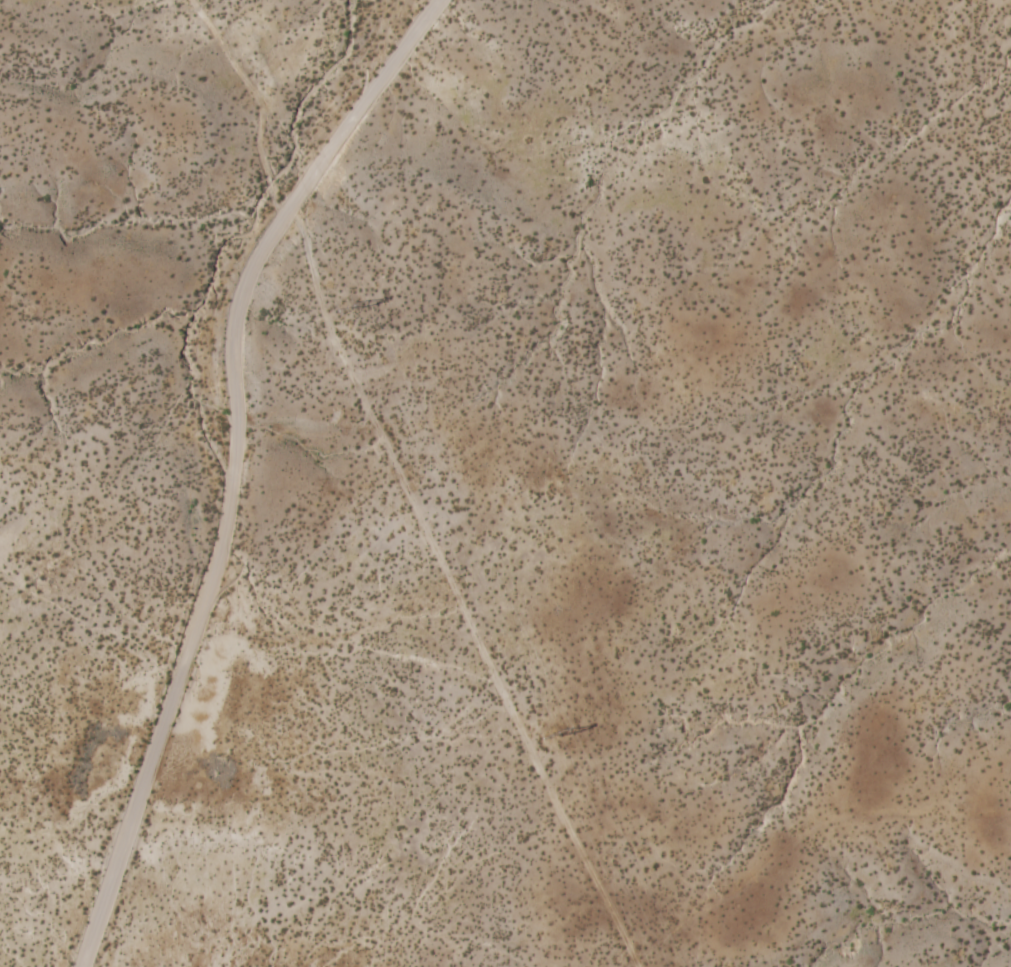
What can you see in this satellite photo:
power tower: (350, 306)
road: (232, 465)
power tower: (553, 734)

